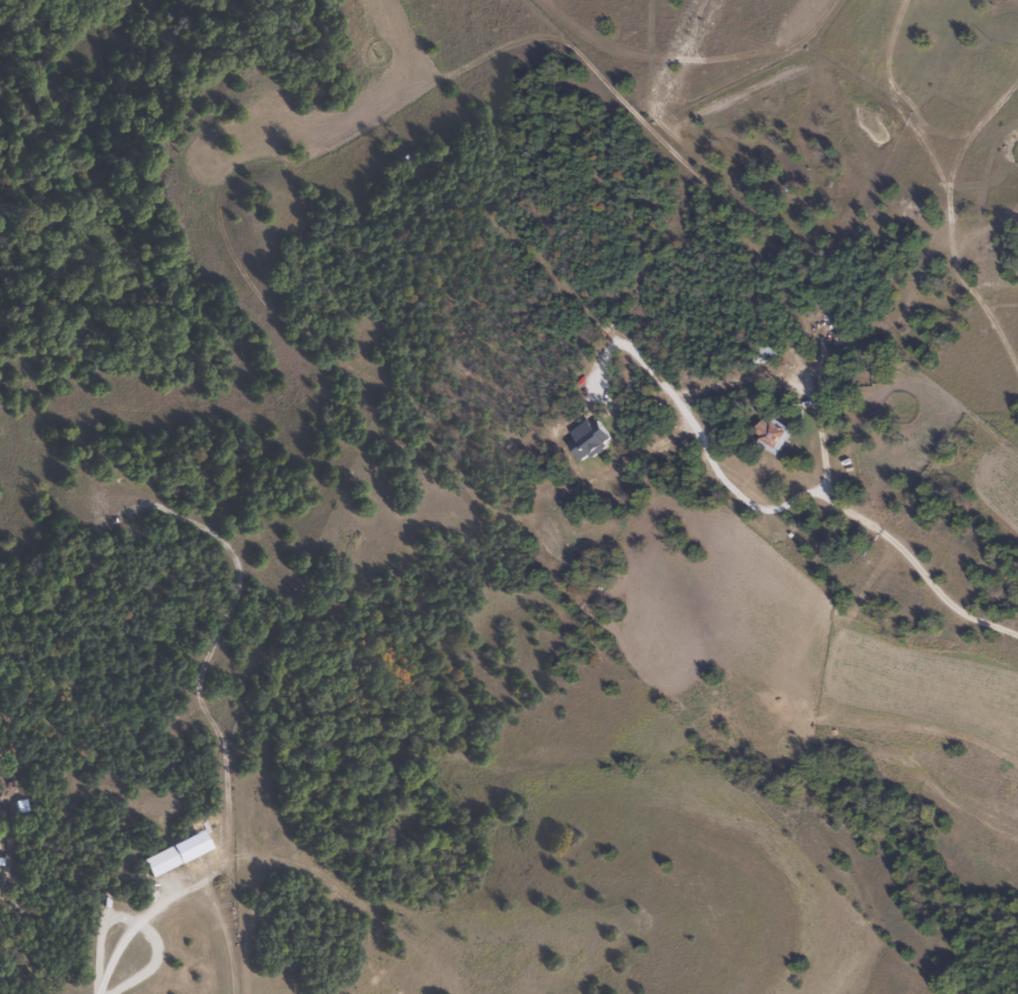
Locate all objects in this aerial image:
building: (764, 353)
building: (866, 361)
building: (771, 434)
building: (159, 863)
road: (142, 920)

